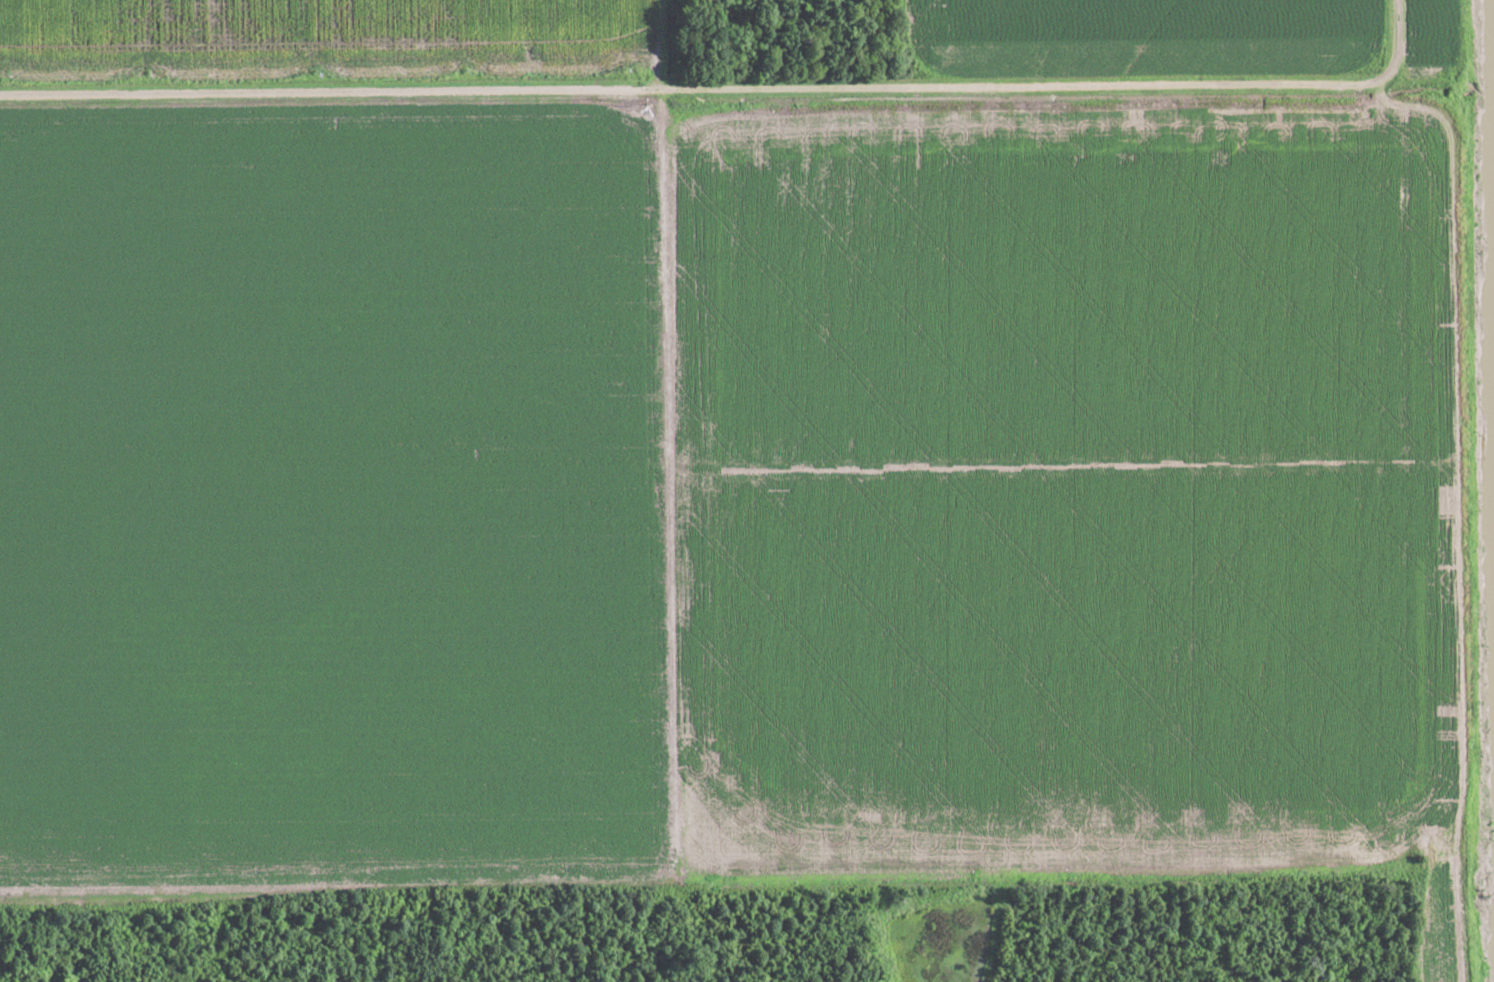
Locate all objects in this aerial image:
road: (346, 63)
road: (732, 89)

